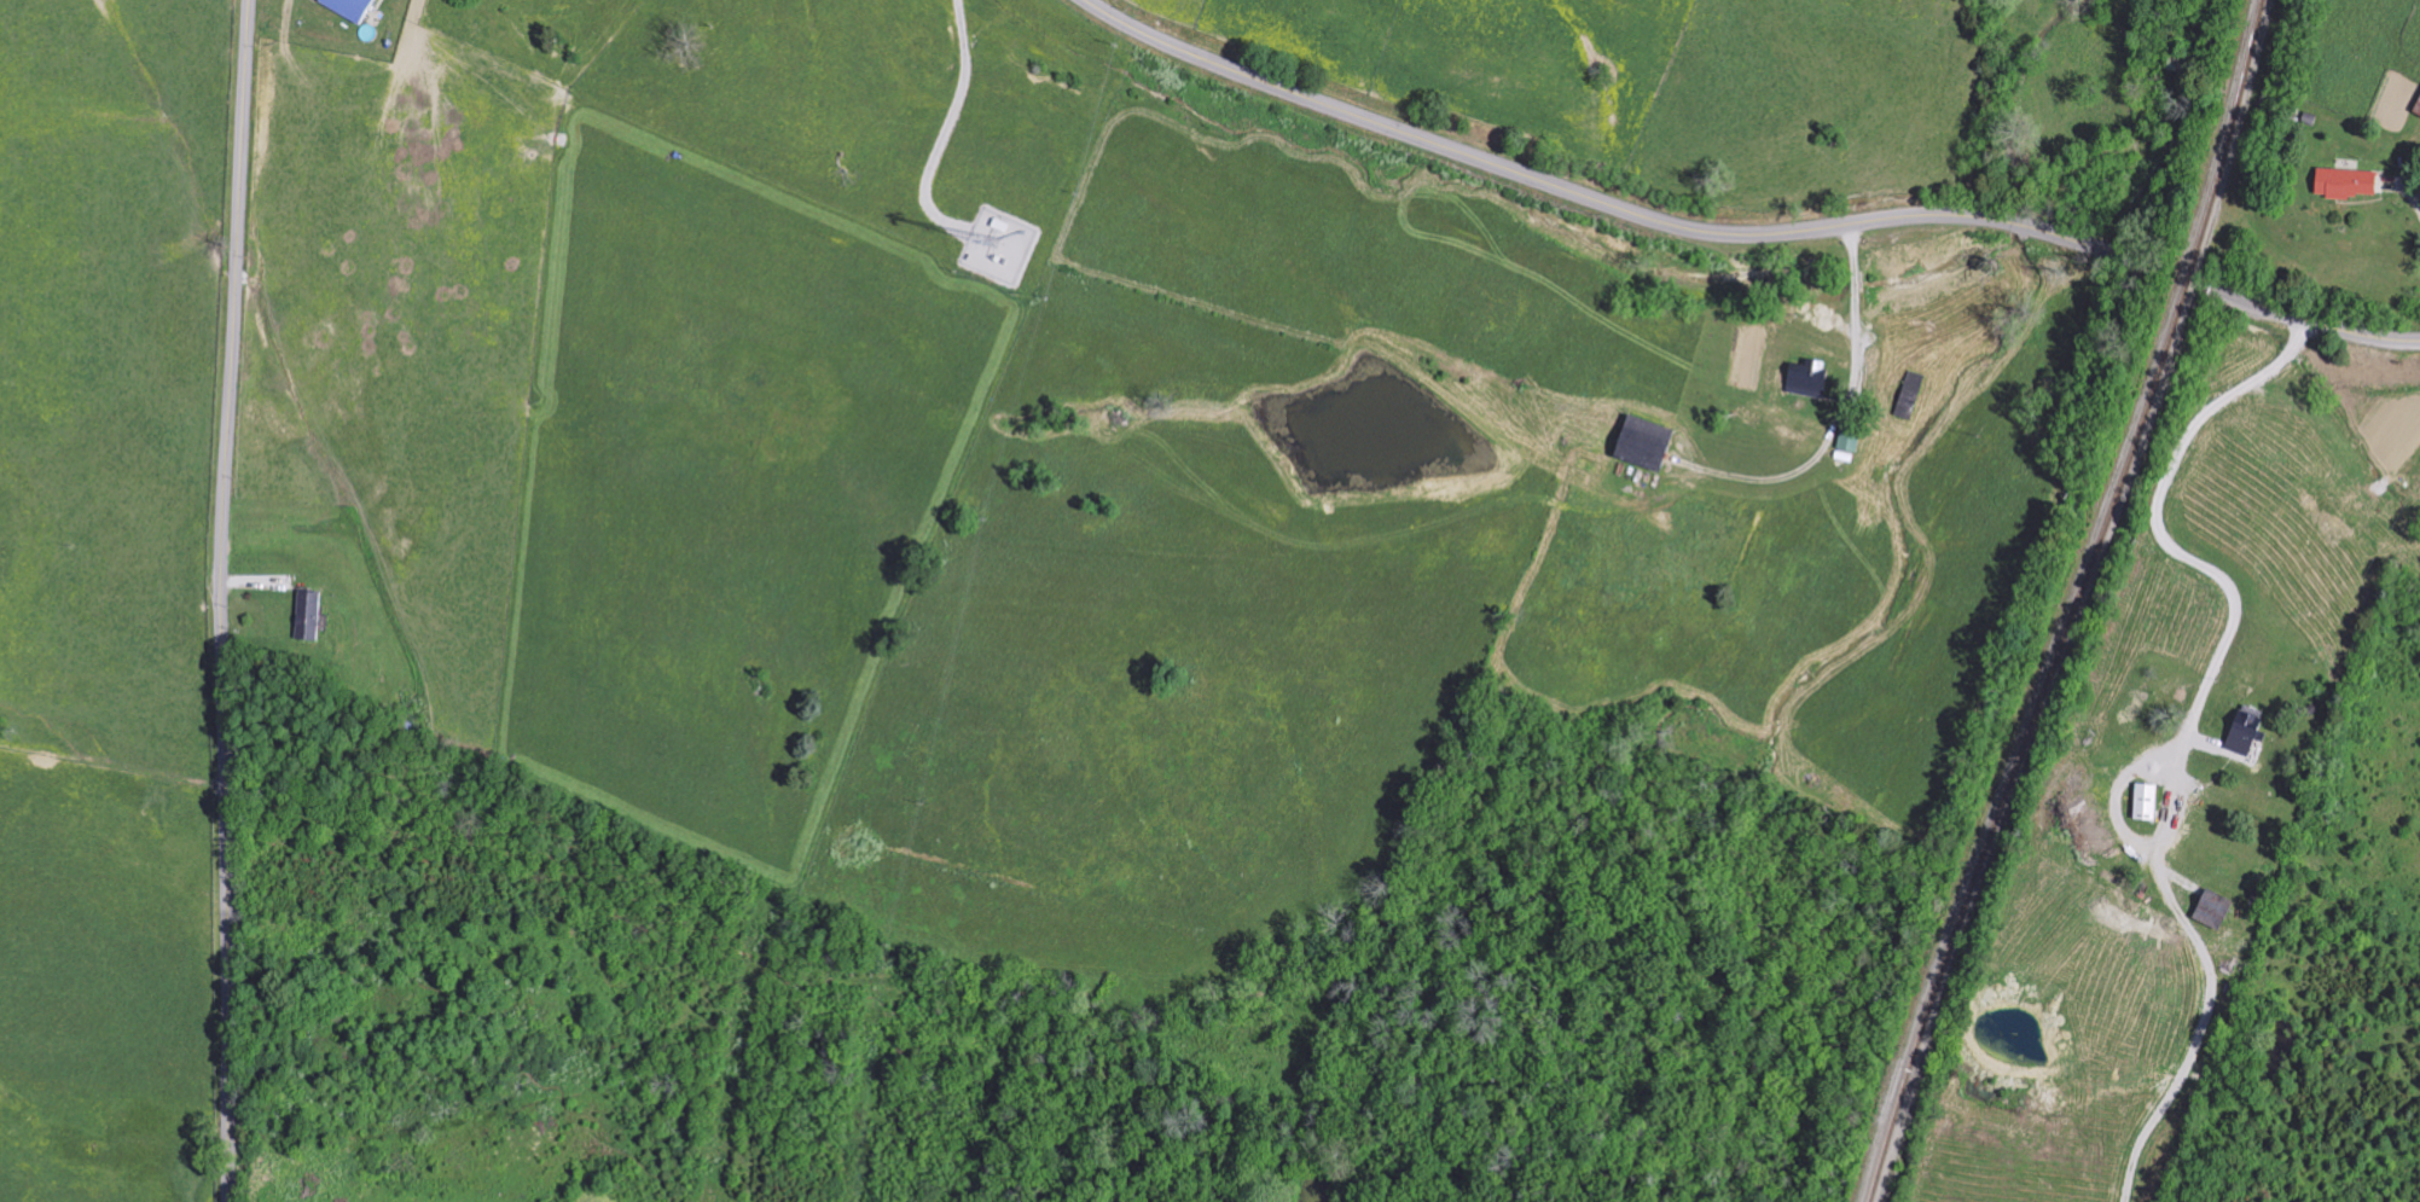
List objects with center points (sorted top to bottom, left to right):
building: (347, 7)
building: (2416, 108)
building: (2345, 184)
road: (2397, 188)
road: (1612, 205)
road: (2311, 323)
building: (1806, 379)
building: (1849, 441)
building: (1641, 443)
road: (224, 600)
railway: (2077, 604)
building: (307, 616)
road: (2229, 622)
building: (2242, 733)
building: (2145, 802)
building: (2212, 910)

